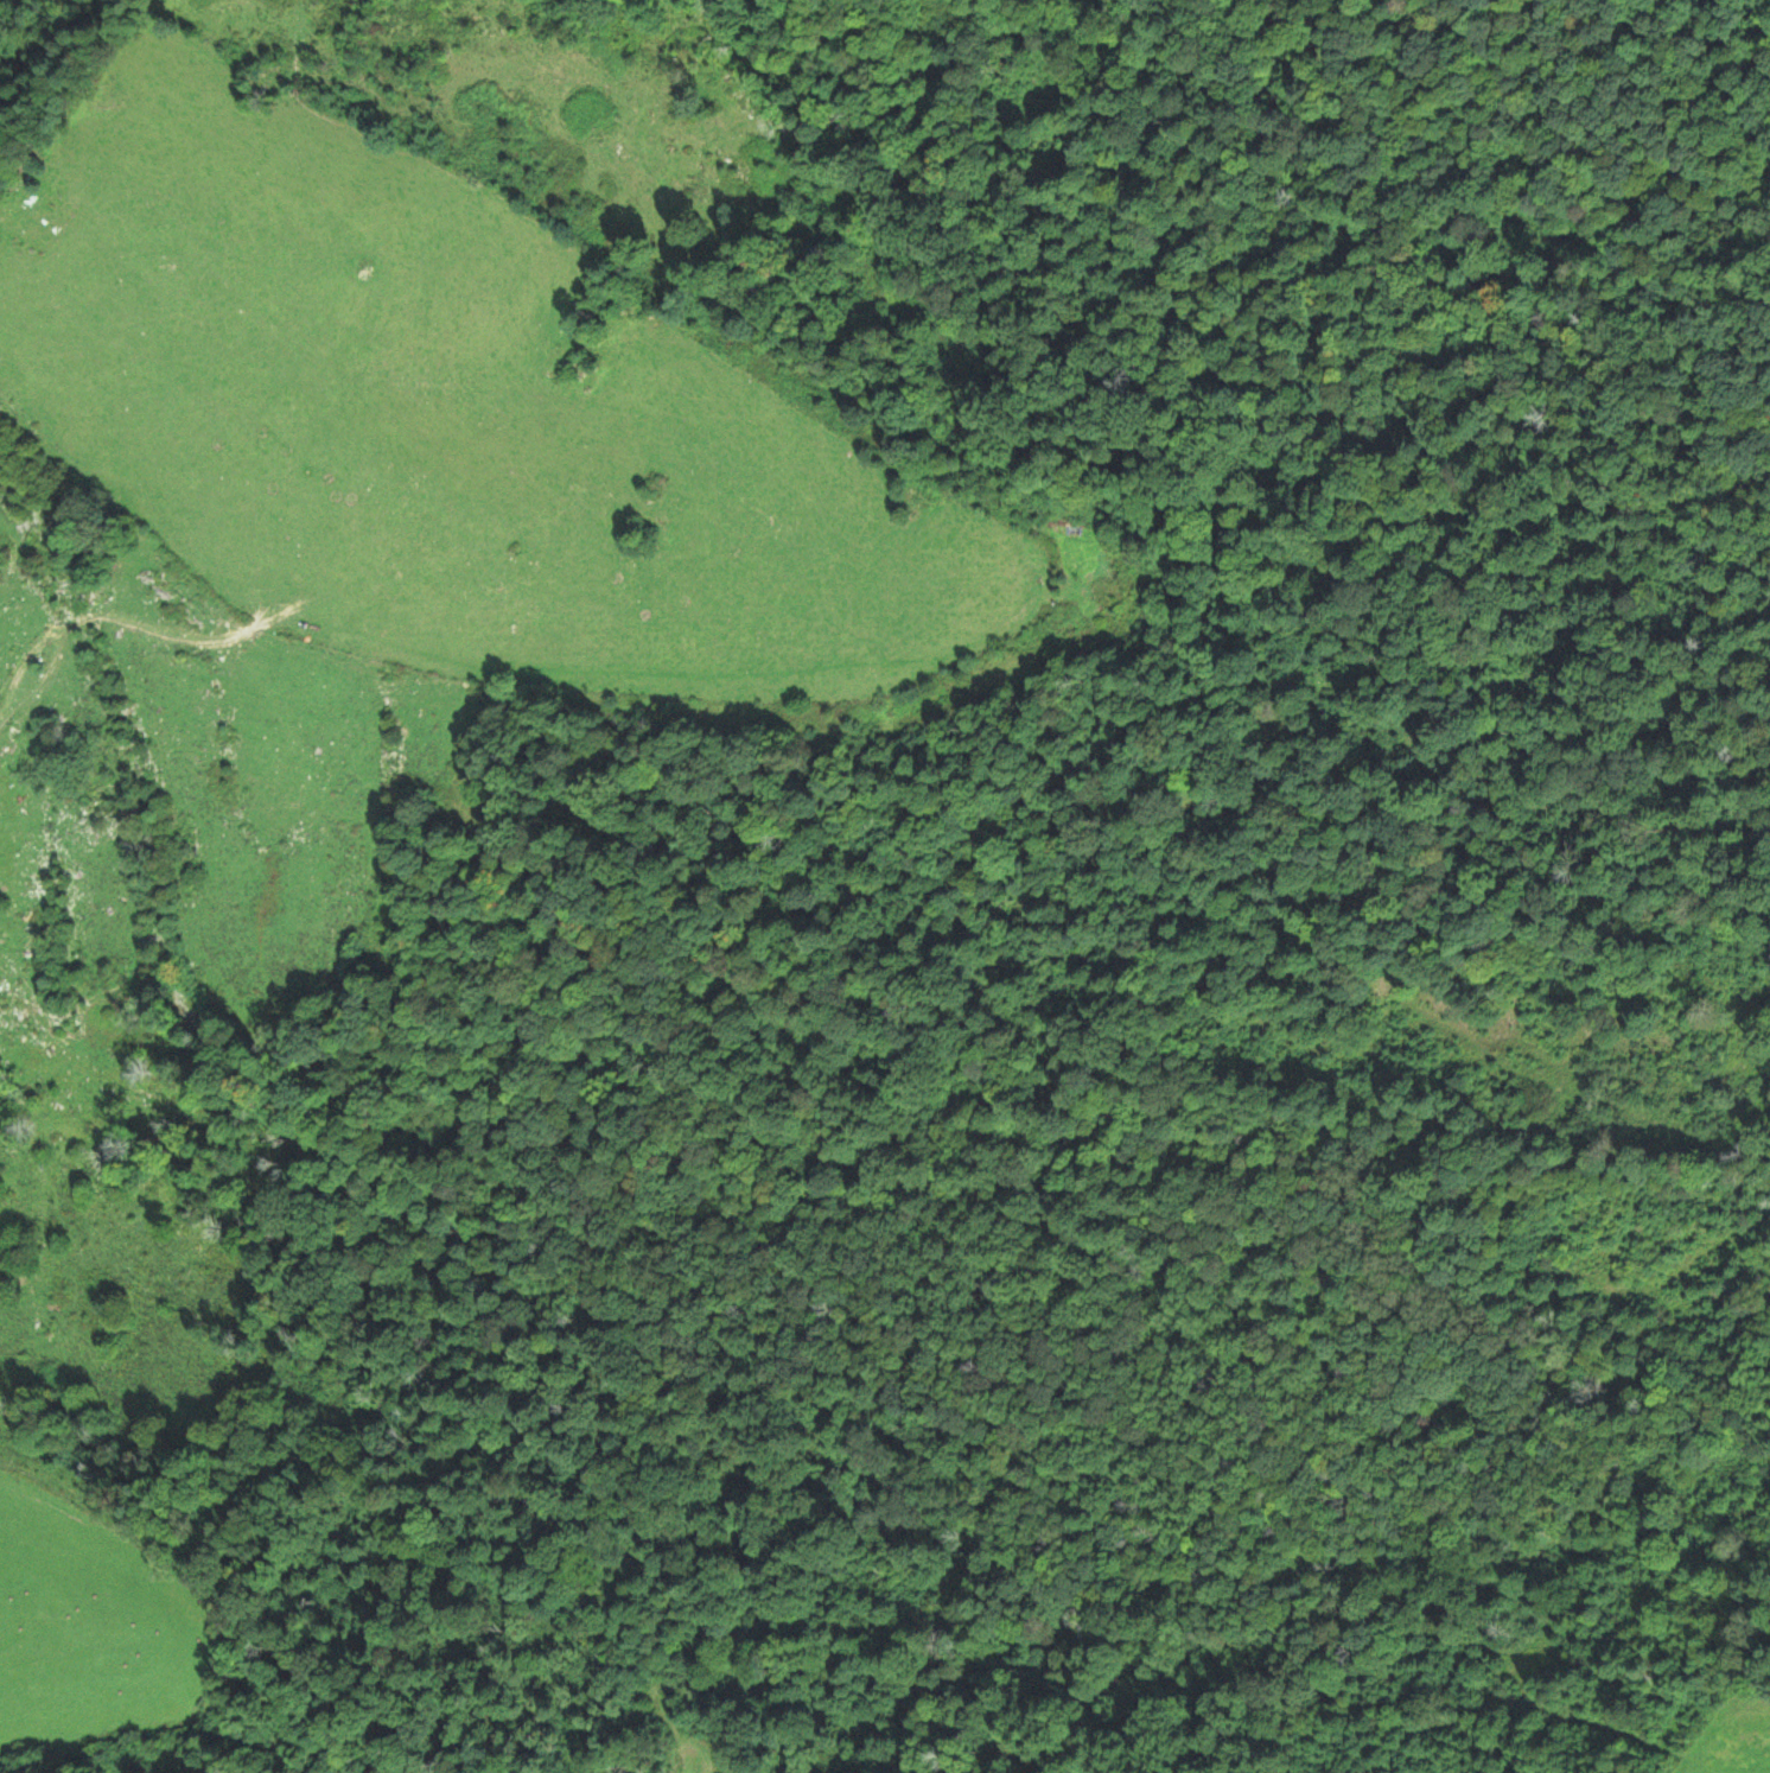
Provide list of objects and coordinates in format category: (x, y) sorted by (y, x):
road: (125, 624)

